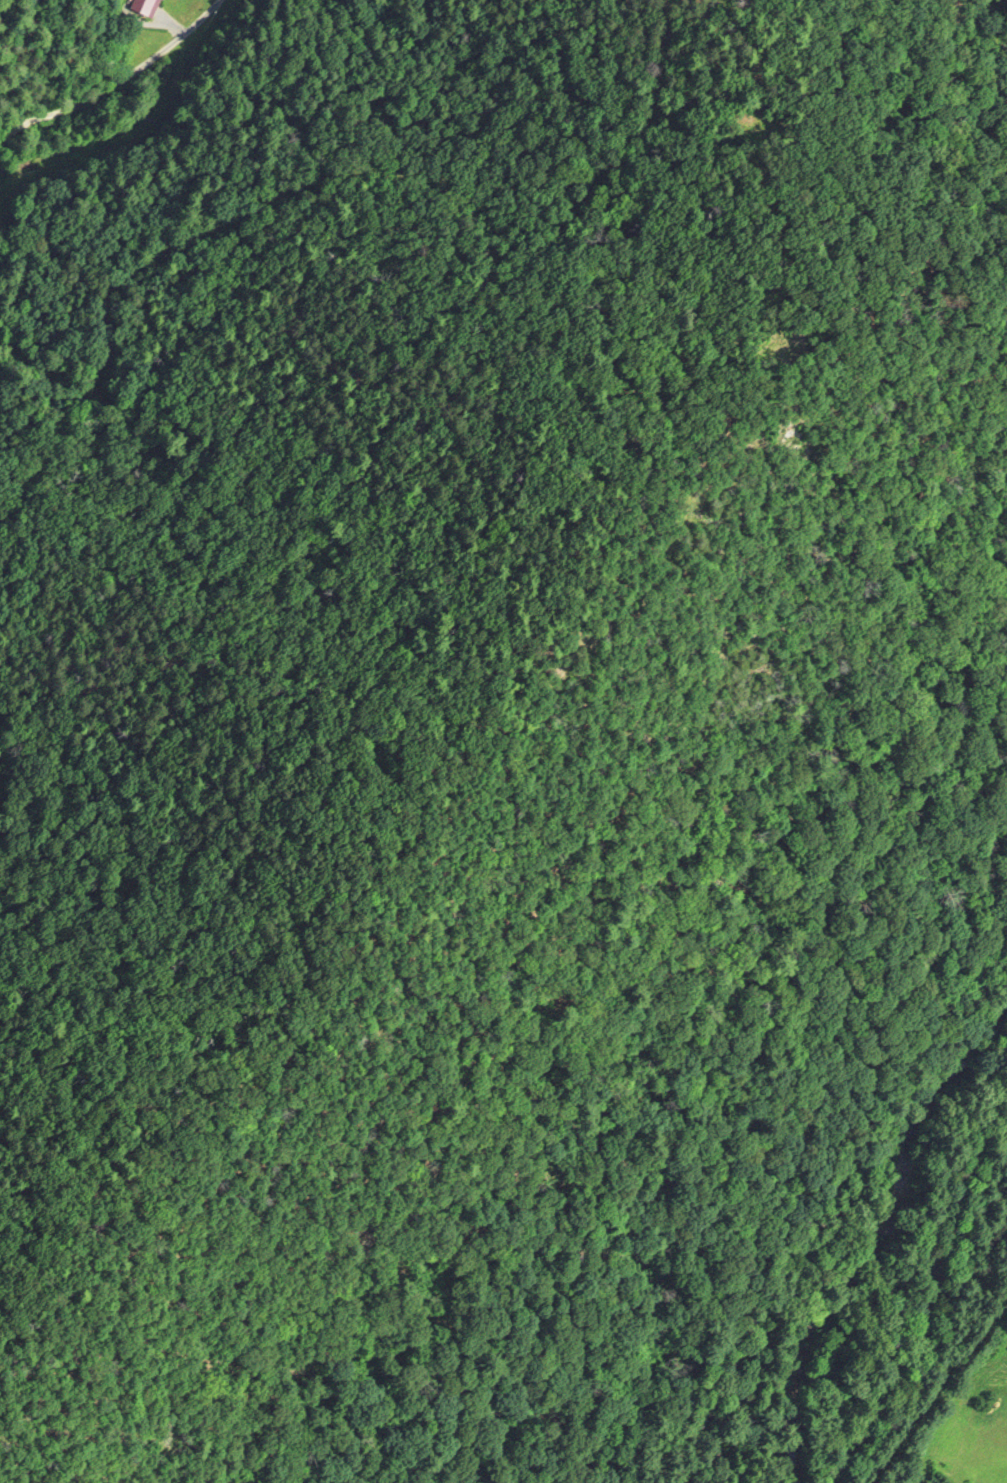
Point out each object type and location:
building: (146, 5)
road: (116, 80)
road: (925, 1295)

